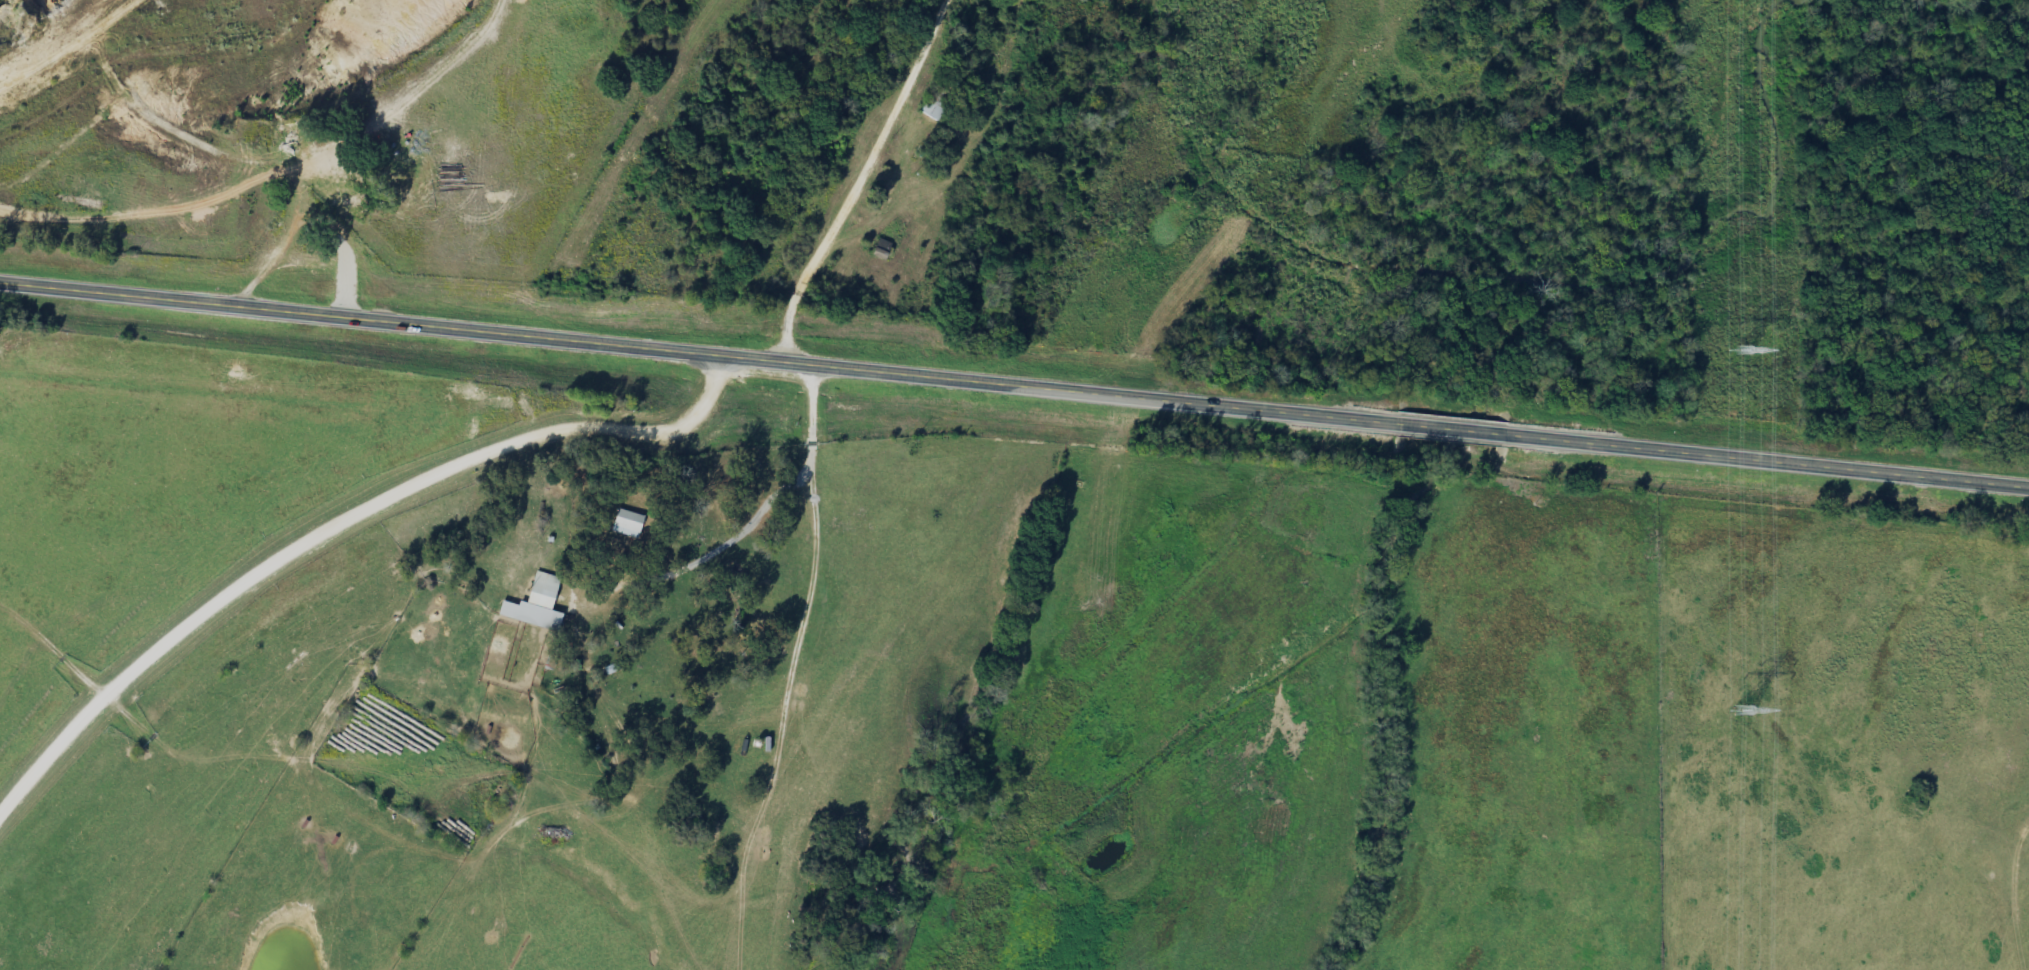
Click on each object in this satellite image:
quarry: (285, 74)
power tower: (1745, 349)
road: (1014, 379)
building: (627, 523)
building: (536, 603)
road: (790, 668)
power tower: (1744, 709)

